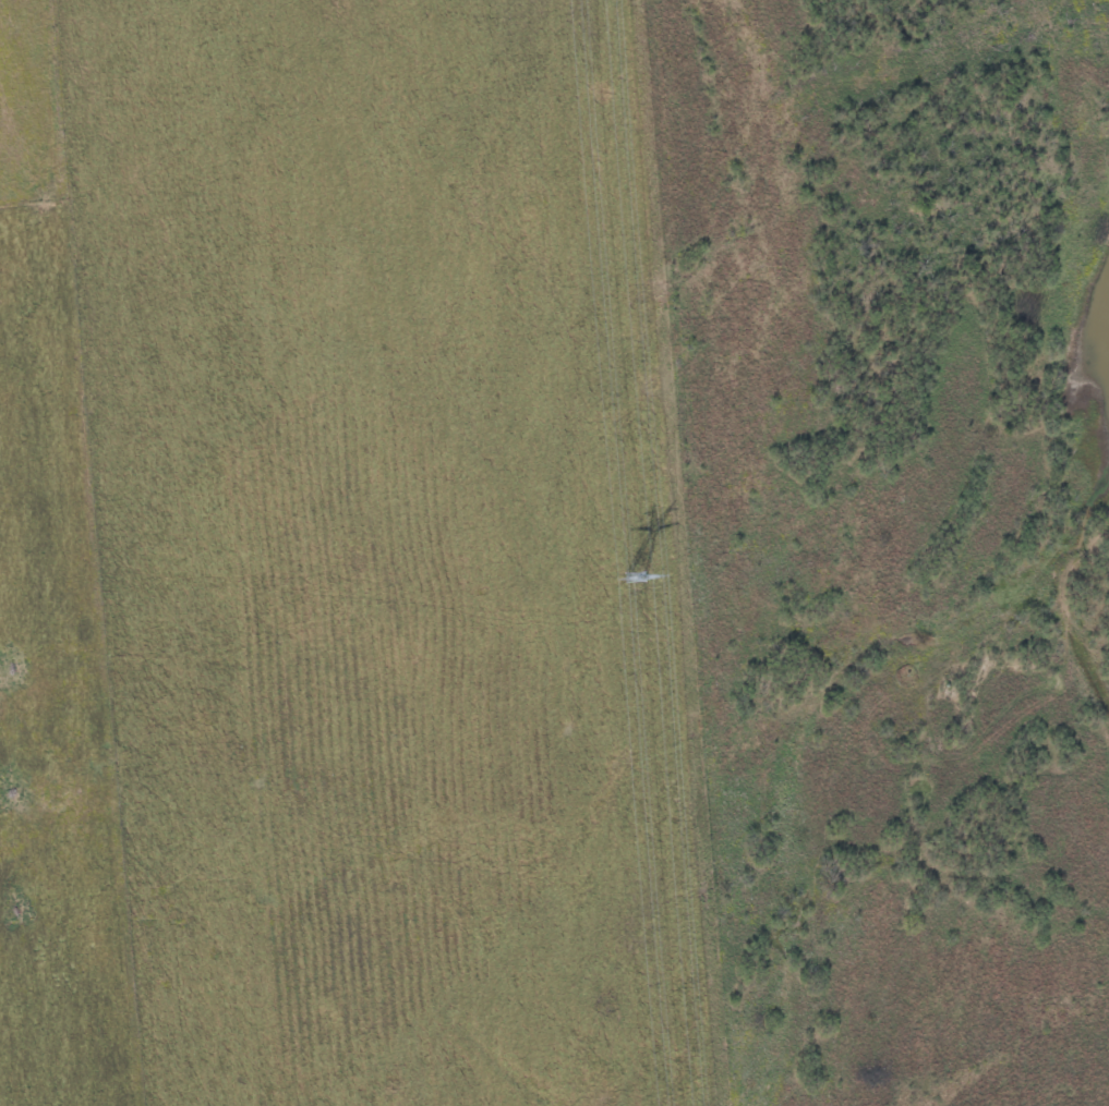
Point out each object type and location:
power tower: (634, 574)

